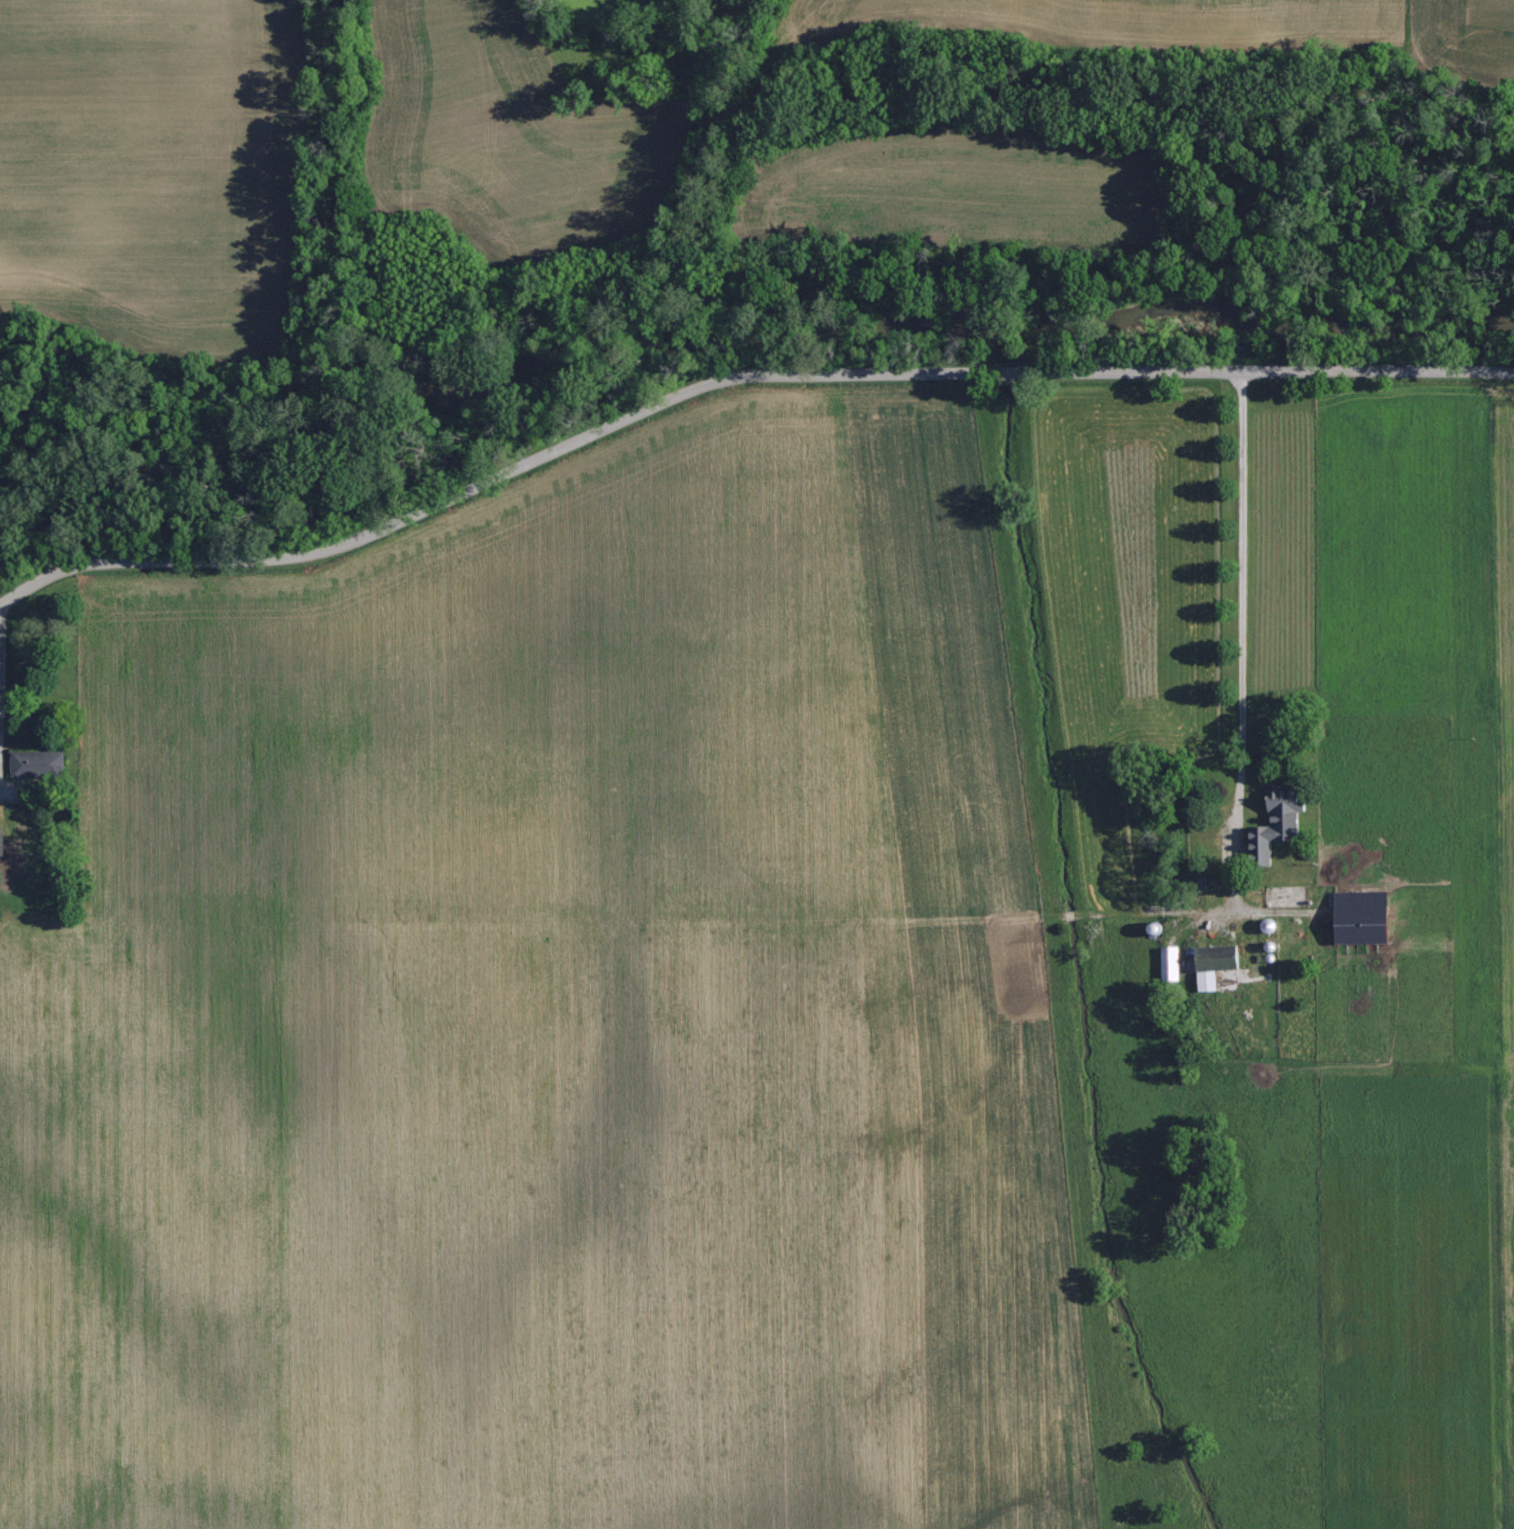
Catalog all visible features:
river: (732, 278)
road: (734, 374)
road: (1239, 592)
building: (39, 762)
road: (9, 777)
building: (1281, 823)
building: (1235, 954)
building: (1173, 963)
building: (1211, 978)

